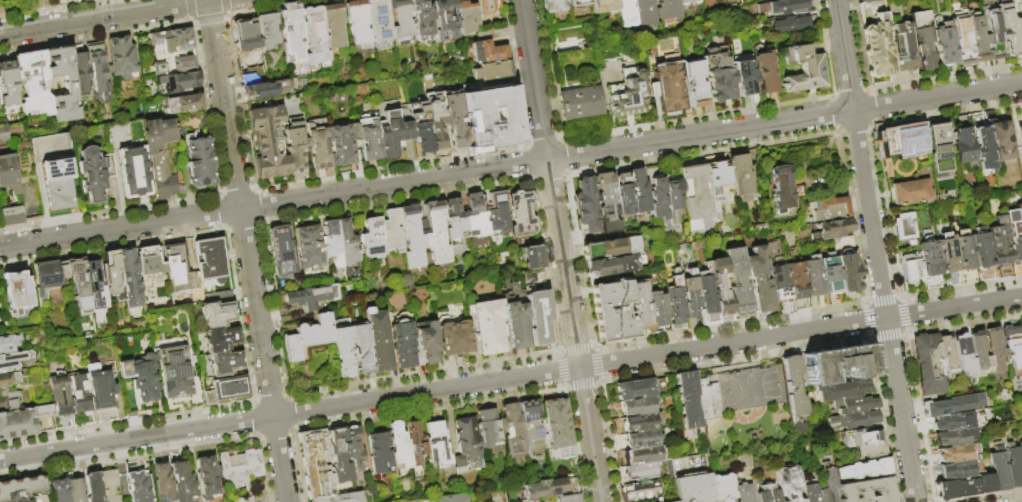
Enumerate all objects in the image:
building: (860, 0)
building: (869, 1)
building: (578, 2)
building: (690, 2)
building: (45, 3)
building: (1021, 5)
building: (555, 6)
building: (487, 7)
building: (606, 7)
building: (783, 8)
building: (672, 10)
building: (645, 13)
building: (445, 14)
building: (627, 14)
building: (466, 16)
road: (109, 17)
building: (421, 19)
building: (378, 21)
building: (400, 21)
building: (357, 24)
building: (791, 25)
building: (1021, 26)
building: (1009, 27)
building: (267, 30)
building: (293, 31)
building: (333, 31)
building: (314, 36)
building: (246, 37)
building: (995, 38)
building: (978, 39)
building: (923, 40)
building: (172, 42)
building: (964, 43)
building: (946, 45)
building: (878, 48)
building: (902, 49)
building: (488, 52)
building: (122, 57)
building: (788, 57)
building: (175, 66)
building: (98, 69)
building: (80, 70)
building: (492, 72)
building: (766, 72)
building: (805, 72)
building: (719, 76)
building: (746, 79)
building: (179, 82)
building: (8, 83)
building: (33, 83)
building: (70, 83)
building: (695, 85)
building: (668, 86)
building: (268, 93)
building: (628, 96)
building: (580, 103)
building: (182, 104)
building: (455, 118)
building: (508, 118)
building: (435, 119)
building: (420, 125)
building: (392, 128)
building: (293, 131)
building: (3, 132)
building: (354, 133)
building: (368, 137)
building: (1019, 137)
building: (1000, 141)
building: (0, 142)
building: (267, 142)
building: (889, 142)
building: (909, 142)
building: (340, 145)
building: (962, 146)
building: (50, 147)
building: (318, 148)
building: (983, 149)
building: (155, 151)
building: (938, 151)
building: (197, 159)
building: (358, 161)
road: (510, 165)
building: (56, 169)
building: (132, 172)
building: (94, 173)
building: (8, 174)
building: (741, 175)
building: (717, 185)
building: (781, 189)
building: (640, 192)
building: (909, 193)
building: (58, 194)
building: (673, 194)
building: (624, 196)
building: (696, 199)
building: (608, 203)
building: (659, 203)
building: (588, 206)
building: (830, 210)
building: (496, 211)
building: (521, 214)
building: (11, 216)
building: (475, 217)
building: (454, 220)
building: (903, 227)
building: (831, 230)
building: (392, 232)
building: (435, 233)
building: (411, 237)
building: (372, 238)
building: (1014, 239)
building: (347, 243)
building: (632, 246)
building: (332, 247)
building: (309, 248)
building: (281, 249)
road: (874, 250)
building: (999, 250)
road: (246, 251)
road: (560, 251)
building: (981, 254)
building: (532, 257)
building: (963, 258)
building: (626, 259)
building: (946, 259)
building: (211, 261)
building: (928, 261)
building: (176, 263)
building: (847, 265)
building: (149, 266)
building: (911, 272)
building: (830, 274)
building: (113, 277)
building: (813, 277)
building: (48, 278)
building: (129, 278)
building: (784, 279)
building: (759, 281)
building: (737, 283)
building: (79, 286)
building: (95, 286)
building: (720, 288)
building: (689, 295)
building: (19, 296)
building: (311, 297)
building: (706, 297)
building: (675, 304)
building: (640, 308)
building: (657, 309)
building: (612, 312)
building: (218, 314)
building: (537, 315)
building: (515, 317)
building: (486, 326)
building: (1021, 330)
building: (453, 335)
building: (307, 337)
building: (379, 339)
building: (221, 340)
building: (426, 340)
building: (8, 343)
building: (402, 344)
building: (1013, 345)
building: (361, 349)
building: (995, 350)
building: (342, 351)
building: (963, 354)
building: (979, 354)
building: (946, 355)
building: (13, 360)
building: (226, 363)
building: (837, 364)
building: (928, 365)
building: (172, 371)
building: (140, 377)
road: (511, 378)
building: (8, 381)
building: (791, 386)
building: (99, 387)
building: (633, 389)
building: (226, 390)
building: (838, 390)
park: (764, 397)
building: (685, 398)
park: (733, 398)
building: (8, 401)
building: (78, 401)
building: (59, 402)
building: (853, 404)
building: (950, 407)
park: (743, 408)
building: (636, 409)
building: (43, 418)
building: (851, 420)
building: (957, 422)
building: (556, 423)
building: (17, 424)
building: (794, 424)
building: (488, 428)
building: (531, 428)
building: (511, 429)
building: (638, 433)
building: (859, 437)
building: (954, 438)
building: (398, 444)
building: (436, 446)
building: (466, 446)
building: (415, 448)
building: (353, 449)
building: (1021, 449)
building: (868, 452)
building: (379, 453)
building: (958, 454)
building: (643, 455)
building: (338, 456)
building: (315, 464)
building: (1014, 467)
road: (684, 469)
building: (960, 470)
building: (241, 471)
building: (999, 471)
building: (640, 472)
building: (861, 472)
road: (750, 477)
building: (209, 480)
building: (182, 482)
building: (788, 482)
building: (163, 483)
building: (110, 485)
building: (827, 485)
building: (94, 487)
building: (139, 487)
building: (721, 488)
building: (22, 489)
building: (548, 489)
building: (693, 489)
building: (964, 489)
building: (76, 490)
building: (60, 491)
building: (638, 491)
building: (866, 491)
building: (743, 493)
building: (809, 493)
building: (768, 494)
building: (340, 498)
building: (454, 498)
building: (568, 498)
building: (32, 500)
building: (399, 501)
building: (421, 501)
building: (496, 501)

